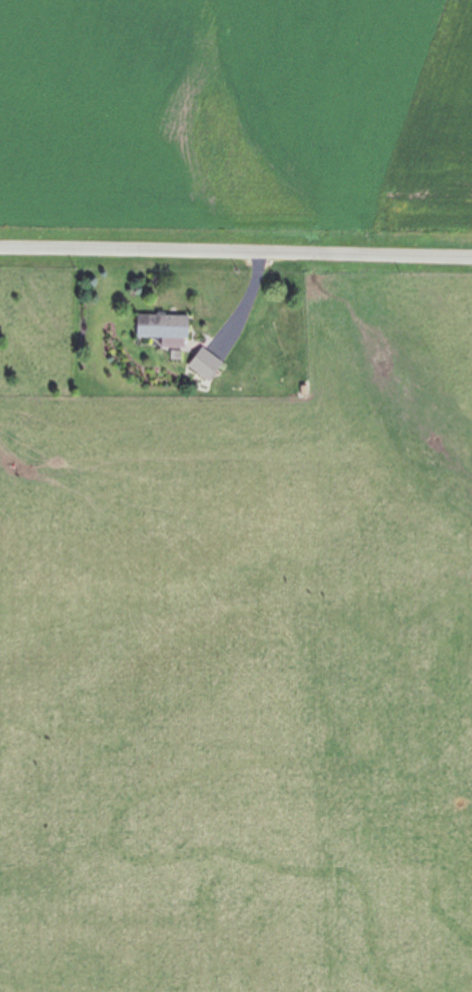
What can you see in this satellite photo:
road: (236, 248)
building: (161, 327)
building: (202, 364)

